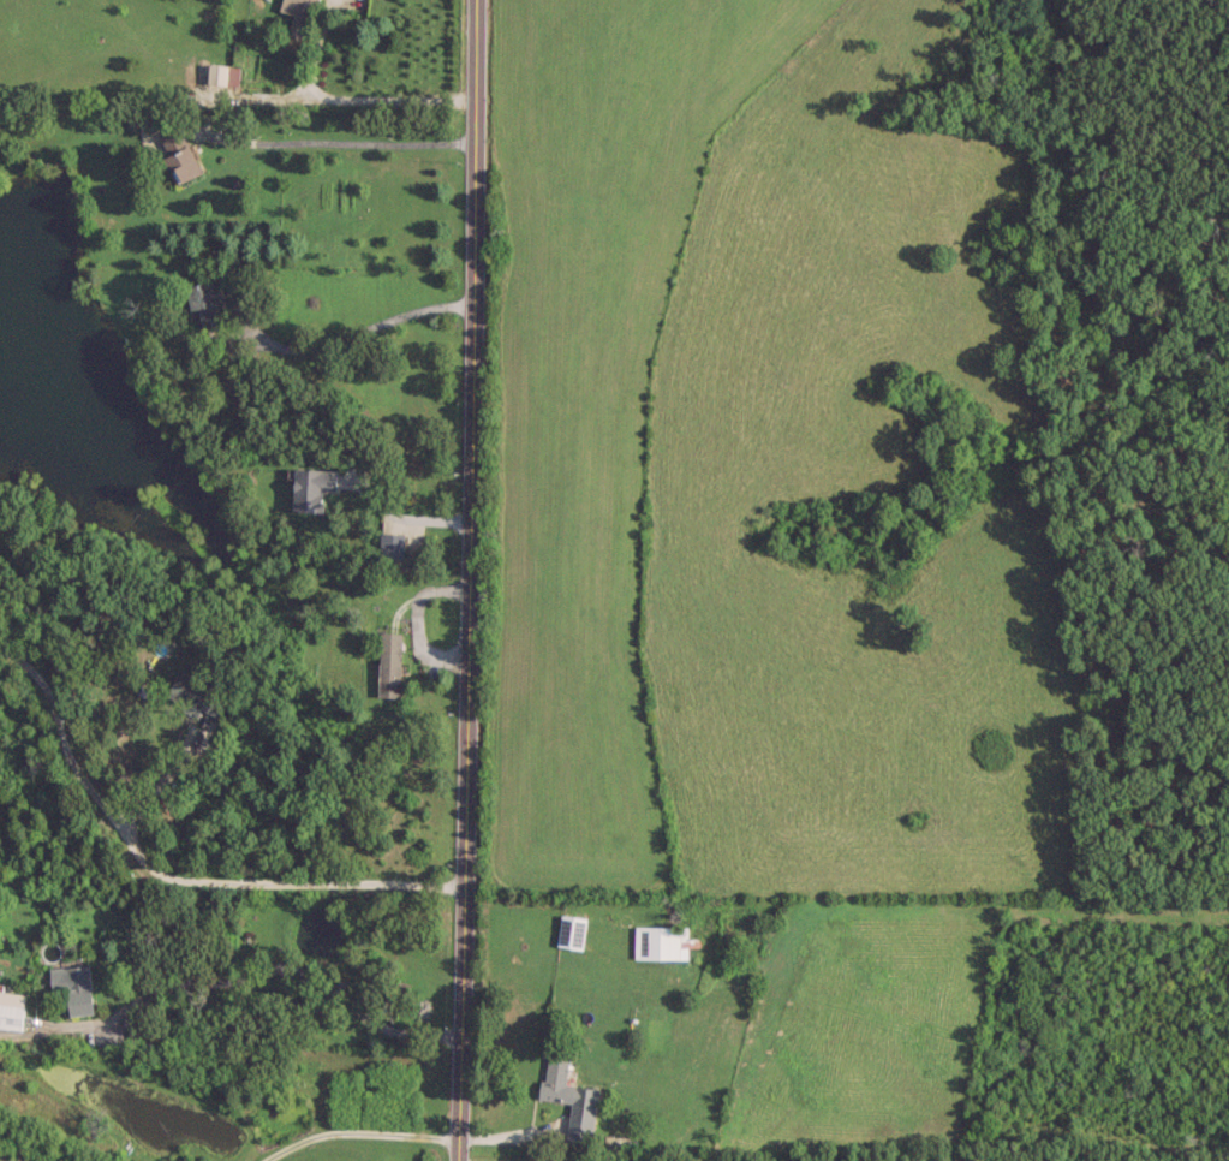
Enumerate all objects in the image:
building: (294, 14)
road: (339, 99)
road: (321, 143)
building: (177, 155)
building: (202, 302)
road: (353, 334)
building: (308, 487)
road: (398, 517)
building: (388, 544)
road: (466, 580)
building: (387, 663)
building: (193, 697)
road: (167, 781)
road: (172, 874)
building: (568, 929)
building: (660, 940)
road: (232, 980)
building: (71, 986)
building: (566, 1092)
road: (352, 1131)

